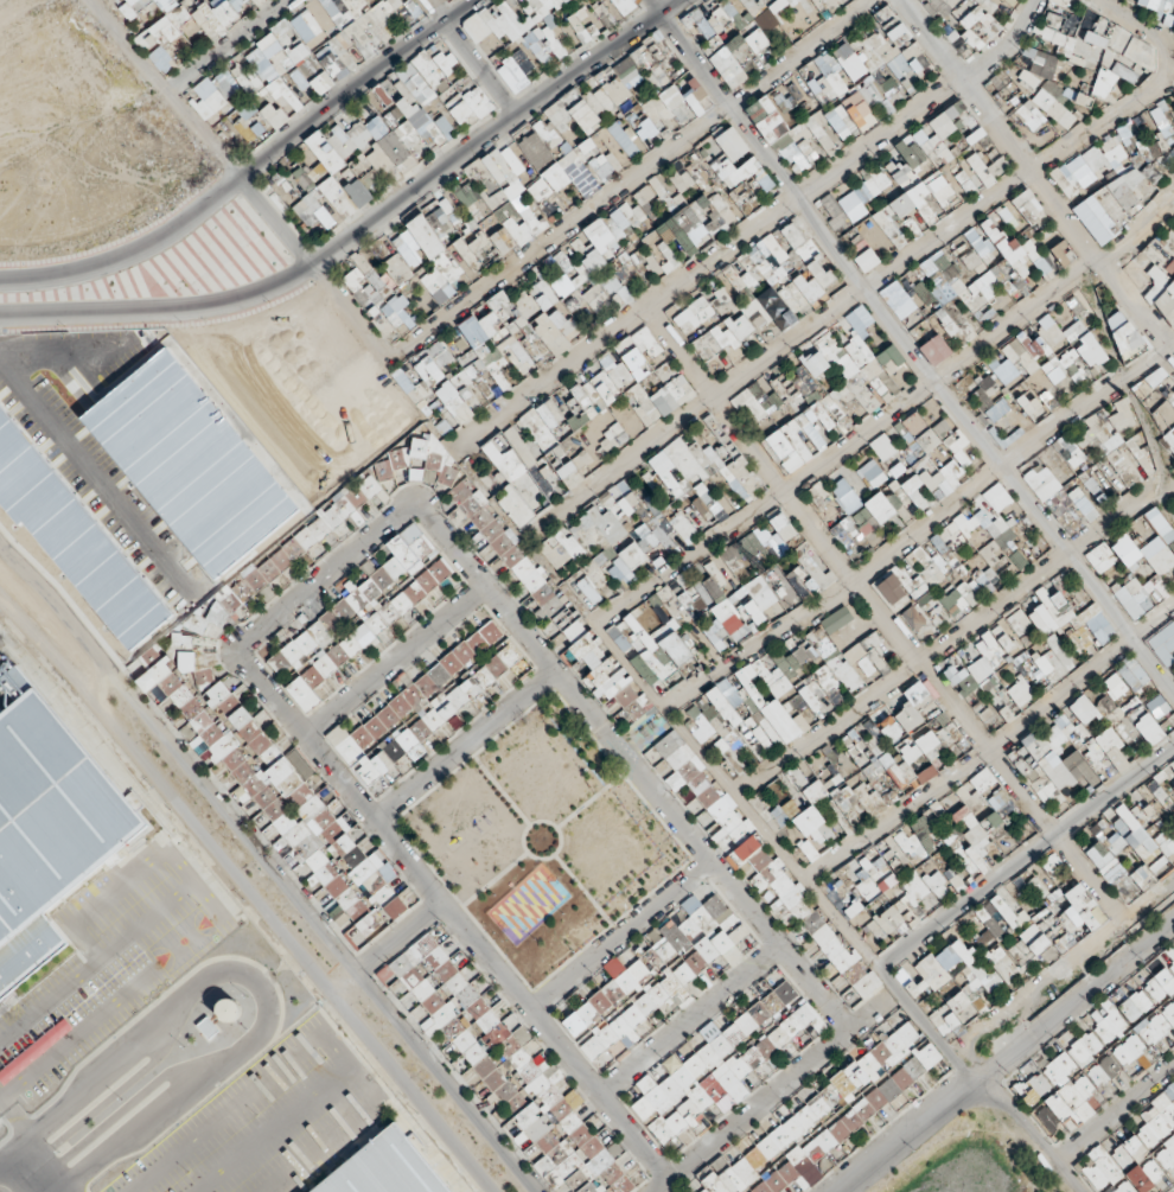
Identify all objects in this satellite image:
park: (542, 841)
park: (530, 905)

